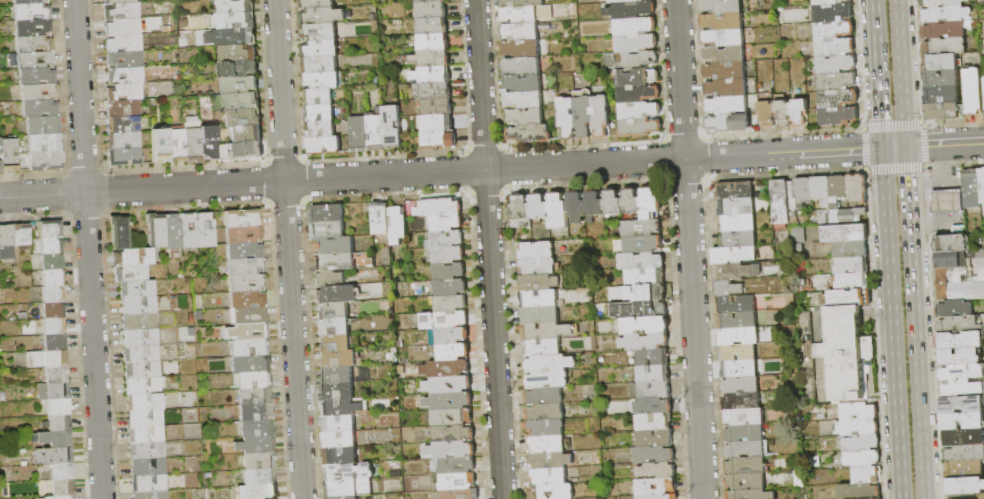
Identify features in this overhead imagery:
building: (119, 1)
building: (428, 1)
building: (625, 1)
building: (26, 2)
building: (829, 2)
building: (523, 3)
building: (941, 3)
building: (316, 4)
building: (236, 6)
building: (722, 6)
building: (431, 10)
building: (632, 10)
building: (32, 11)
building: (122, 11)
building: (833, 12)
building: (945, 14)
building: (520, 15)
building: (323, 16)
building: (236, 21)
building: (723, 21)
building: (33, 27)
building: (124, 27)
building: (432, 27)
building: (635, 27)
building: (834, 29)
building: (946, 30)
building: (320, 31)
building: (521, 32)
building: (238, 37)
building: (723, 38)
building: (124, 43)
building: (433, 43)
building: (636, 43)
building: (34, 44)
building: (944, 46)
building: (835, 47)
building: (321, 48)
building: (522, 49)
building: (238, 53)
building: (725, 54)
building: (35, 59)
building: (126, 59)
building: (428, 59)
building: (631, 60)
building: (941, 63)
building: (835, 64)
building: (320, 65)
building: (523, 66)
building: (239, 69)
building: (726, 71)
road: (877, 73)
road: (899, 73)
building: (126, 75)
building: (37, 76)
building: (431, 76)
building: (638, 77)
building: (941, 79)
building: (324, 80)
building: (837, 82)
building: (524, 83)
building: (240, 85)
building: (728, 89)
building: (433, 91)
building: (39, 92)
building: (125, 92)
building: (973, 92)
building: (639, 94)
building: (942, 95)
building: (982, 95)
building: (320, 97)
building: (838, 99)
building: (525, 100)
building: (241, 102)
building: (728, 106)
building: (436, 107)
building: (40, 108)
building: (123, 108)
building: (767, 108)
building: (639, 111)
building: (800, 112)
building: (945, 112)
building: (583, 113)
building: (784, 113)
building: (320, 114)
building: (526, 116)
building: (839, 116)
building: (601, 117)
building: (242, 118)
building: (567, 118)
building: (437, 123)
building: (730, 123)
building: (44, 125)
building: (124, 125)
building: (392, 127)
building: (640, 128)
building: (321, 130)
building: (246, 133)
building: (377, 133)
building: (361, 134)
building: (530, 134)
building: (193, 138)
building: (438, 140)
building: (124, 141)
building: (210, 141)
building: (45, 143)
building: (160, 144)
building: (176, 144)
road: (943, 144)
building: (324, 145)
road: (892, 147)
traffic signals: (903, 147)
traffic signals: (881, 148)
building: (245, 150)
building: (10, 155)
building: (144, 155)
building: (124, 156)
building: (1, 157)
building: (47, 160)
road: (440, 172)
building: (982, 185)
building: (858, 189)
building: (972, 189)
building: (804, 190)
building: (838, 190)
building: (736, 191)
building: (822, 191)
building: (632, 201)
building: (783, 201)
building: (614, 202)
building: (947, 202)
gas station: (947, 202)
building: (595, 204)
building: (650, 204)
building: (540, 206)
building: (440, 207)
building: (577, 207)
building: (737, 207)
building: (520, 211)
building: (558, 211)
building: (327, 213)
building: (842, 216)
building: (244, 218)
building: (381, 218)
building: (446, 223)
building: (738, 223)
building: (398, 225)
building: (51, 228)
building: (642, 228)
building: (207, 229)
building: (156, 230)
building: (329, 230)
building: (959, 230)
building: (189, 231)
building: (121, 233)
building: (244, 233)
building: (846, 234)
building: (22, 235)
building: (173, 236)
building: (445, 239)
building: (739, 239)
building: (7, 242)
building: (953, 243)
building: (52, 244)
building: (643, 244)
building: (334, 246)
road: (88, 249)
road: (288, 249)
road: (488, 249)
road: (688, 249)
building: (852, 249)
building: (245, 250)
building: (535, 251)
building: (448, 255)
building: (734, 255)
building: (133, 257)
building: (959, 259)
building: (53, 261)
building: (641, 261)
building: (335, 262)
building: (852, 265)
building: (246, 266)
building: (538, 266)
building: (449, 271)
building: (737, 272)
building: (131, 273)
building: (646, 276)
building: (52, 277)
building: (330, 278)
building: (853, 282)
building: (247, 283)
building: (540, 283)
building: (960, 284)
building: (451, 287)
building: (657, 288)
building: (137, 289)
building: (729, 289)
building: (54, 293)
building: (337, 294)
building: (622, 294)
building: (543, 298)
building: (850, 298)
building: (247, 300)
building: (451, 304)
building: (737, 304)
building: (139, 305)
building: (954, 308)
building: (650, 309)
building: (55, 310)
building: (332, 311)
building: (249, 315)
building: (541, 315)
building: (444, 320)
building: (738, 320)
building: (140, 321)
road: (912, 322)
road: (890, 323)
building: (962, 324)
building: (646, 325)
building: (54, 326)
building: (333, 327)
building: (248, 331)
building: (549, 331)
building: (453, 335)
building: (739, 336)
building: (141, 337)
building: (960, 340)
building: (55, 342)
building: (644, 342)
building: (334, 343)
building: (250, 347)
building: (542, 347)
building: (453, 352)
building: (739, 352)
building: (141, 354)
building: (848, 354)
building: (960, 356)
building: (653, 357)
building: (47, 359)
building: (338, 359)
building: (251, 364)
building: (550, 364)
building: (446, 369)
building: (740, 369)
building: (143, 370)
building: (654, 373)
building: (962, 373)
building: (57, 375)
building: (336, 376)
building: (253, 380)
building: (548, 380)
building: (449, 384)
building: (145, 385)
building: (741, 385)
building: (961, 389)
building: (655, 390)
building: (54, 391)
building: (338, 392)
building: (255, 396)
building: (545, 396)
building: (449, 401)
building: (144, 402)
building: (741, 402)
building: (961, 404)
building: (59, 406)
building: (341, 407)
building: (654, 407)
building: (860, 411)
building: (256, 413)
building: (546, 413)
building: (452, 417)
building: (745, 417)
building: (145, 419)
building: (962, 421)
building: (654, 422)
building: (58, 423)
building: (339, 423)
building: (861, 427)
building: (547, 428)
building: (257, 429)
building: (454, 433)
building: (745, 433)
building: (145, 434)
building: (964, 437)
building: (56, 438)
building: (340, 439)
building: (656, 439)
building: (863, 442)
building: (256, 445)
building: (547, 445)
building: (746, 449)
building: (147, 450)
building: (451, 450)
building: (965, 454)
building: (54, 455)
building: (654, 455)
building: (341, 456)
building: (863, 457)
building: (260, 460)
building: (550, 460)
building: (148, 466)
building: (747, 466)
building: (458, 467)
building: (964, 470)
building: (657, 471)
building: (63, 472)
building: (349, 472)
building: (867, 474)
building: (260, 477)
building: (548, 477)
building: (754, 481)
building: (458, 482)
building: (149, 483)
building: (965, 486)
building: (657, 487)
building: (63, 488)
building: (342, 489)
building: (553, 491)
building: (860, 491)
building: (258, 492)
building: (151, 494)
building: (462, 494)
building: (751, 494)
building: (61, 497)
building: (345, 497)
building: (659, 497)

